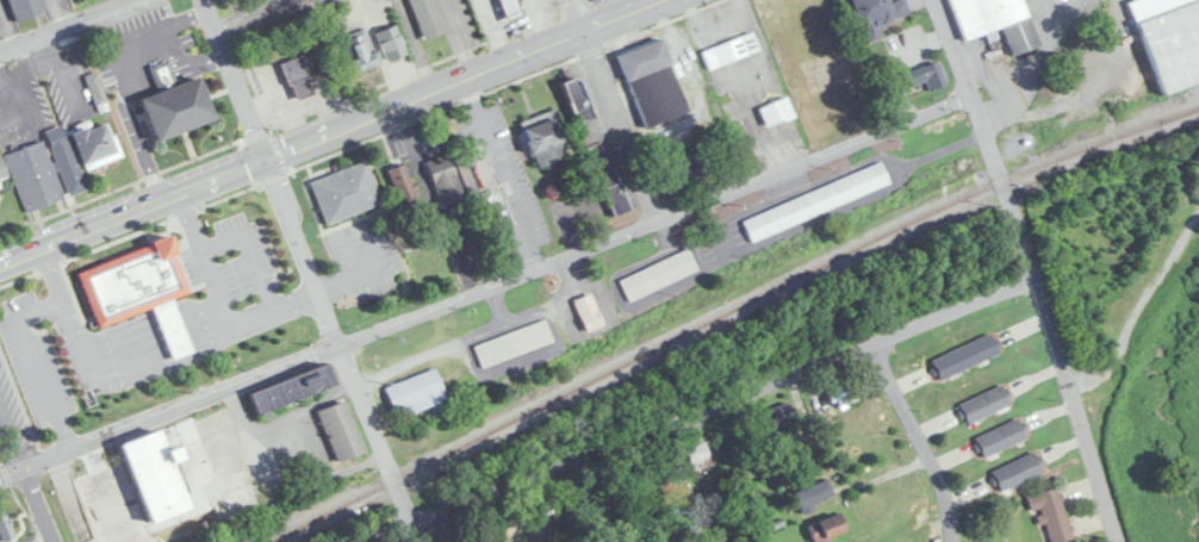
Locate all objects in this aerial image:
building: (24, 10)
building: (510, 10)
road: (257, 15)
road: (577, 15)
building: (878, 15)
building: (427, 18)
building: (995, 21)
road: (66, 25)
road: (460, 37)
building: (1169, 38)
building: (391, 44)
road: (416, 45)
building: (731, 51)
building: (360, 52)
building: (302, 71)
building: (925, 76)
road: (465, 77)
road: (237, 79)
building: (653, 83)
building: (577, 101)
building: (175, 107)
building: (777, 113)
railway: (1189, 113)
road: (620, 123)
building: (543, 141)
building: (95, 147)
building: (1198, 160)
building: (687, 166)
building: (45, 172)
building: (0, 176)
building: (476, 176)
building: (445, 181)
building: (402, 183)
building: (346, 193)
building: (614, 193)
road: (431, 199)
building: (815, 203)
road: (133, 211)
road: (1032, 268)
building: (658, 275)
building: (135, 285)
road: (485, 285)
road: (223, 304)
road: (1138, 307)
building: (588, 312)
railway: (731, 312)
road: (209, 329)
building: (173, 330)
road: (26, 336)
road: (178, 339)
building: (512, 344)
road: (338, 353)
road: (92, 369)
building: (291, 390)
building: (416, 394)
building: (984, 404)
road: (703, 407)
building: (779, 417)
building: (340, 431)
building: (1000, 437)
road: (914, 441)
building: (697, 454)
building: (1015, 471)
road: (25, 473)
road: (62, 482)
building: (150, 482)
building: (815, 496)
building: (1051, 513)
building: (4, 528)
building: (827, 528)
road: (37, 537)

